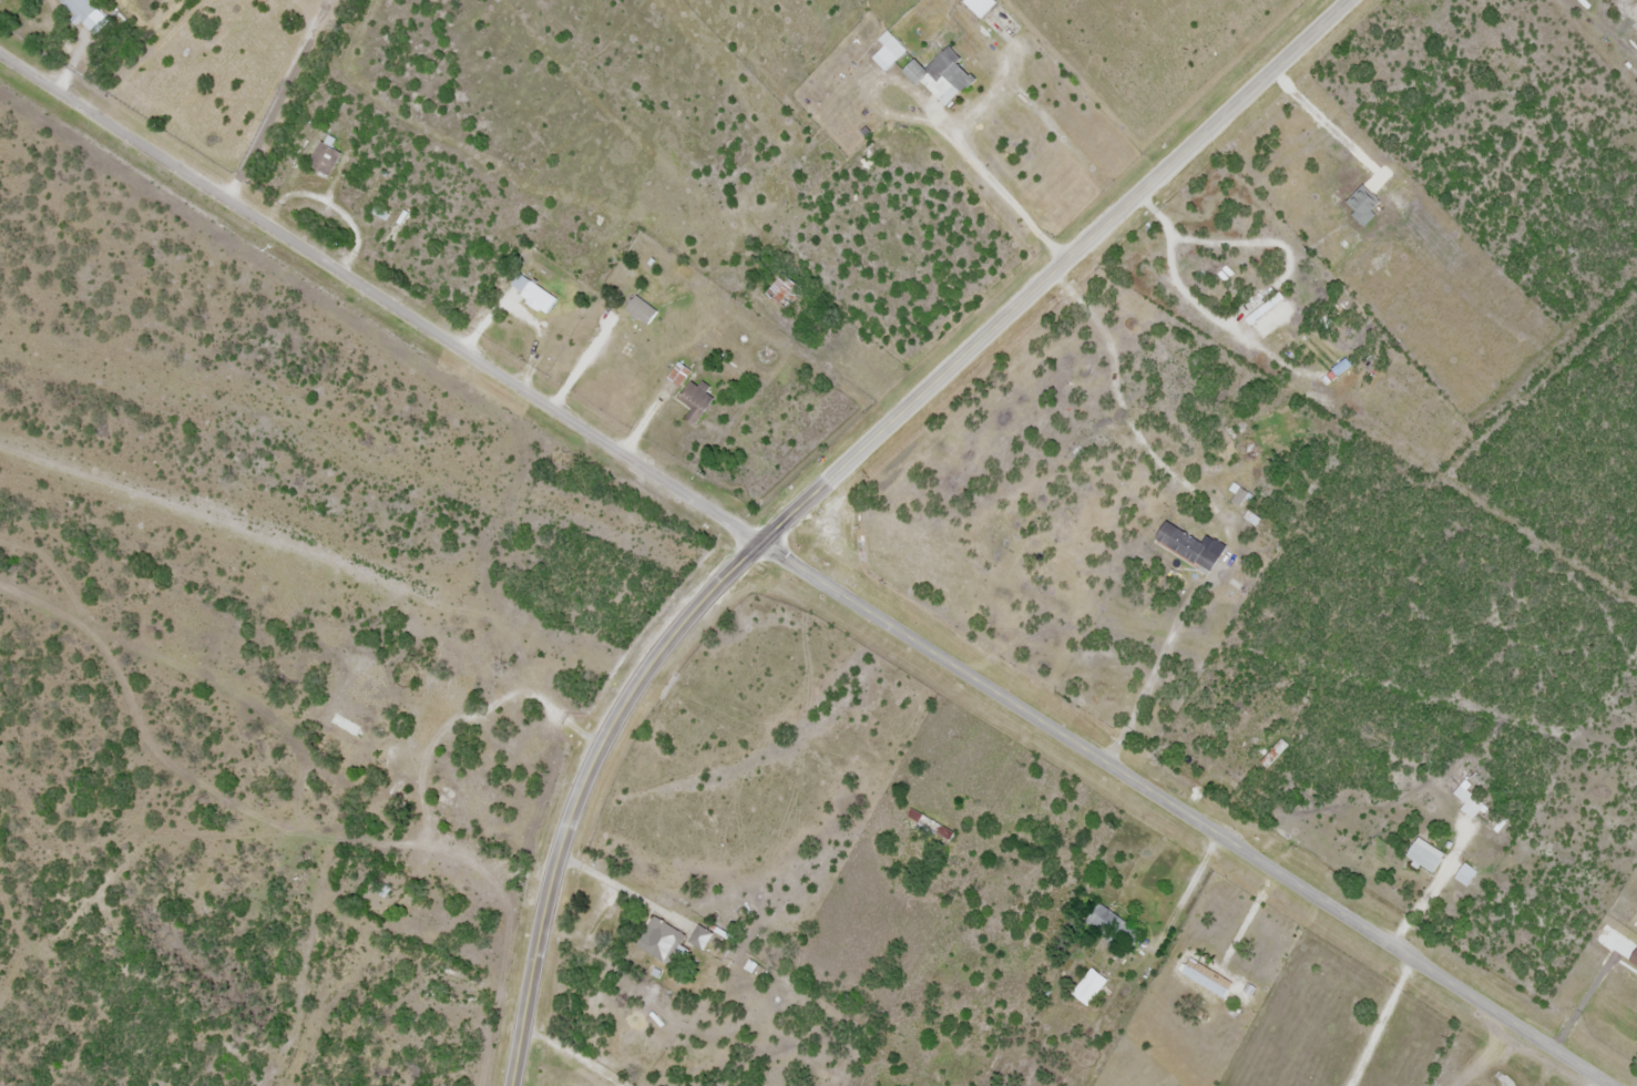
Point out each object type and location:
building: (81, 10)
building: (327, 158)
road: (997, 188)
building: (538, 295)
road: (380, 298)
road: (1246, 306)
building: (1275, 316)
road: (830, 479)
road: (1206, 510)
building: (1193, 549)
building: (473, 656)
road: (1184, 814)
building: (1430, 857)
road: (567, 1056)

